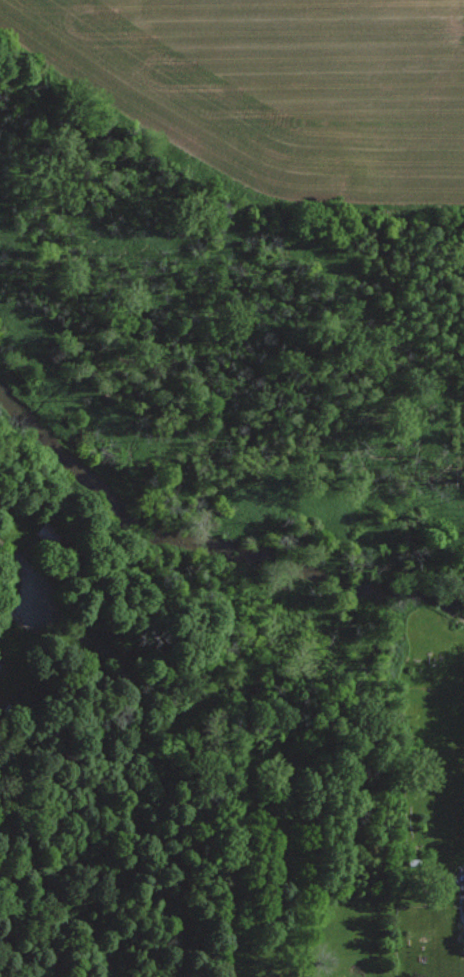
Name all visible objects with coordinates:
road: (28, 572)

